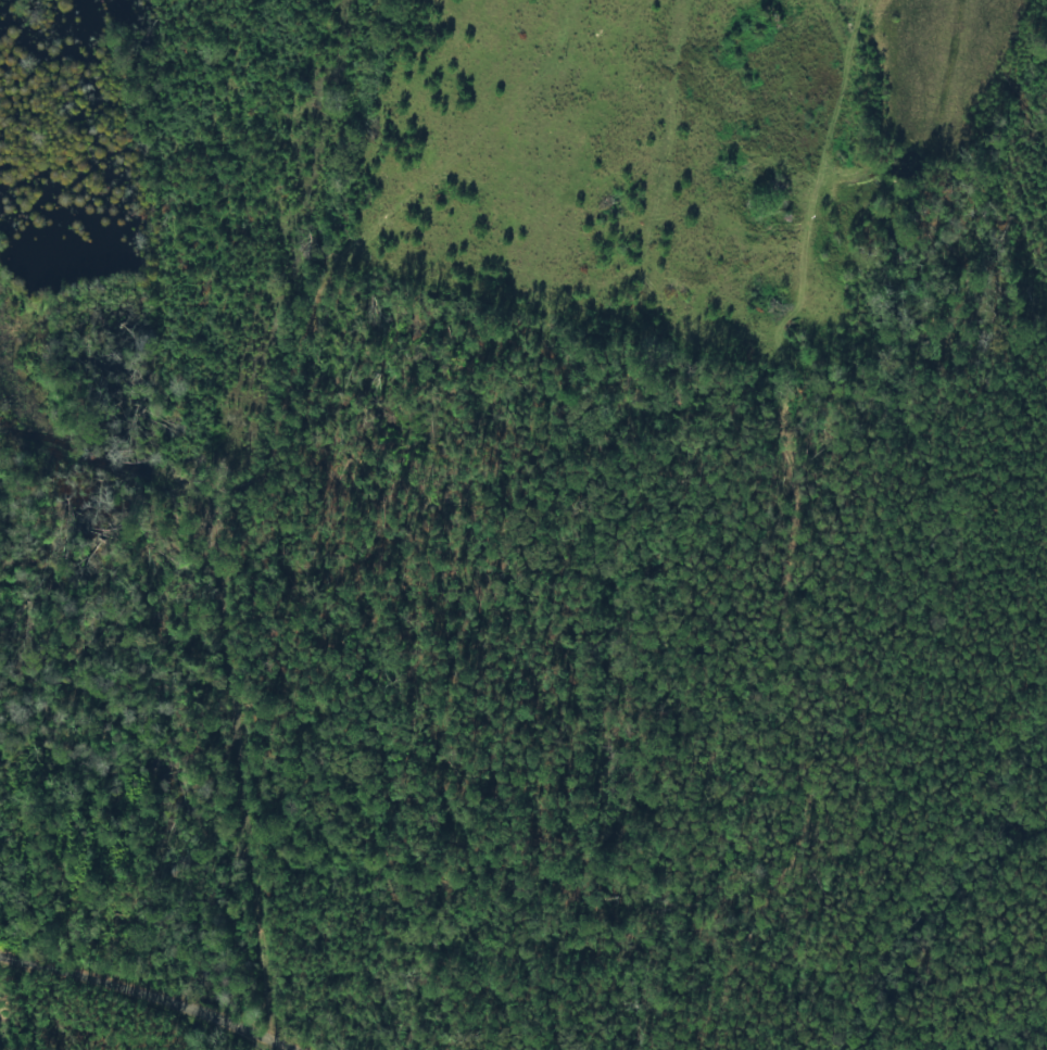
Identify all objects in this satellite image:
road: (138, 1016)

